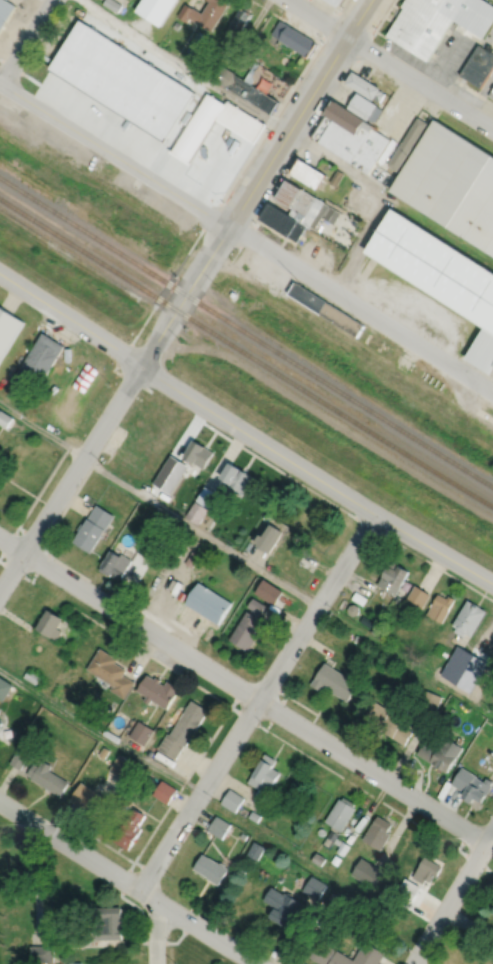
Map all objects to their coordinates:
building: (337, 2)
building: (343, 2)
building: (112, 5)
building: (154, 10)
building: (5, 11)
building: (204, 13)
building: (436, 22)
building: (238, 23)
building: (176, 25)
building: (294, 38)
road: (322, 39)
road: (26, 42)
building: (128, 46)
road: (450, 47)
road: (404, 49)
road: (390, 64)
road: (184, 66)
building: (478, 67)
building: (251, 73)
building: (103, 84)
building: (364, 88)
building: (243, 89)
road: (476, 94)
building: (491, 94)
building: (130, 105)
building: (361, 107)
building: (176, 122)
building: (240, 122)
building: (198, 128)
building: (342, 132)
building: (406, 145)
road: (303, 146)
building: (369, 151)
road: (342, 167)
building: (308, 175)
road: (256, 183)
building: (451, 183)
road: (226, 190)
building: (299, 201)
building: (326, 212)
building: (283, 222)
road: (276, 231)
road: (247, 236)
road: (361, 244)
parking lot: (321, 252)
building: (440, 271)
railway: (245, 288)
building: (325, 308)
road: (70, 318)
building: (8, 328)
railway: (246, 331)
railway: (246, 352)
building: (39, 359)
building: (5, 418)
building: (198, 452)
building: (167, 468)
road: (315, 475)
road: (69, 476)
building: (236, 476)
building: (209, 497)
road: (342, 509)
building: (196, 511)
building: (267, 515)
building: (167, 523)
building: (94, 527)
road: (24, 531)
building: (269, 536)
road: (9, 541)
building: (149, 545)
road: (246, 559)
building: (114, 563)
building: (393, 576)
building: (269, 591)
building: (418, 596)
building: (359, 597)
building: (208, 602)
building: (256, 606)
building: (441, 606)
building: (353, 609)
building: (469, 618)
building: (366, 621)
building: (51, 623)
building: (375, 629)
building: (246, 630)
building: (355, 636)
building: (111, 672)
building: (446, 674)
building: (31, 676)
building: (455, 677)
building: (334, 681)
building: (471, 683)
building: (4, 688)
road: (243, 689)
building: (157, 690)
road: (256, 700)
building: (429, 701)
road: (229, 704)
building: (0, 711)
road: (275, 713)
building: (388, 722)
building: (1, 724)
building: (182, 729)
building: (141, 732)
building: (30, 741)
building: (104, 752)
building: (442, 753)
building: (20, 759)
building: (122, 766)
building: (264, 775)
road: (345, 777)
building: (48, 778)
building: (473, 785)
building: (164, 791)
building: (87, 800)
building: (232, 800)
road: (213, 804)
building: (340, 813)
building: (254, 815)
building: (219, 827)
building: (130, 830)
building: (321, 831)
building: (378, 832)
building: (243, 835)
building: (330, 839)
building: (338, 841)
road: (69, 845)
building: (343, 848)
building: (256, 850)
building: (318, 859)
building: (336, 859)
building: (210, 868)
building: (242, 868)
building: (427, 870)
building: (368, 872)
road: (38, 882)
building: (315, 886)
building: (368, 889)
building: (408, 890)
building: (335, 897)
road: (453, 897)
building: (282, 905)
road: (158, 918)
building: (108, 920)
building: (318, 920)
road: (142, 935)
road: (211, 935)
building: (322, 951)
building: (41, 952)
building: (360, 955)
building: (75, 962)

